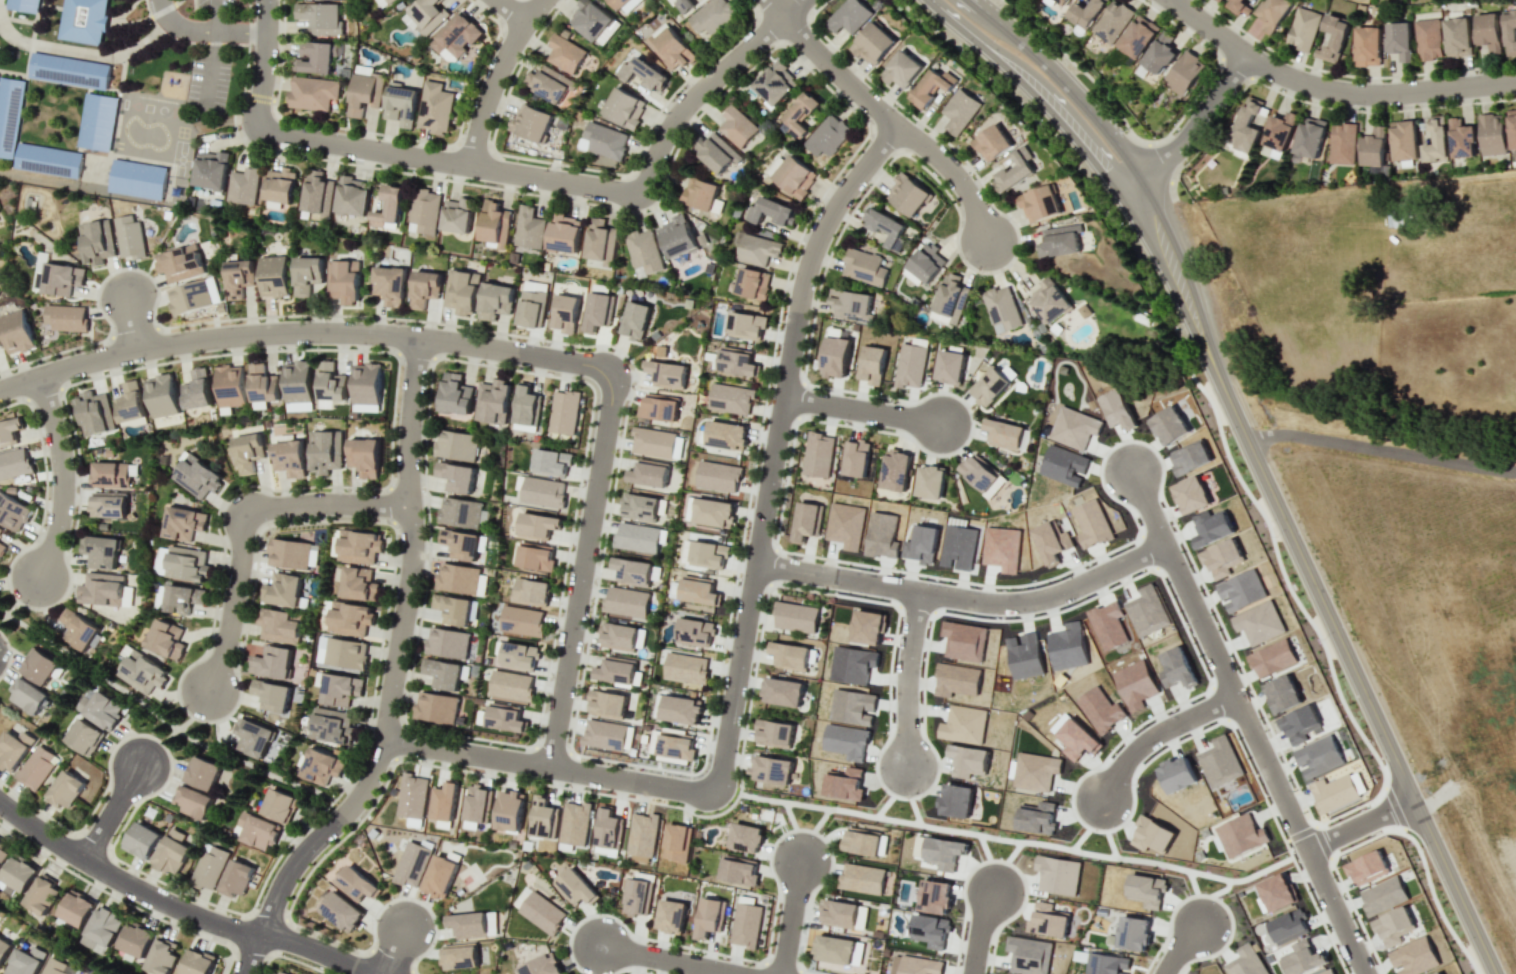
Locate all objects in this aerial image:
street lamp: (280, 0)
street lamp: (1146, 0)
building: (1220, 0)
building: (381, 2)
building: (1064, 2)
parking lot: (213, 3)
building: (685, 4)
building: (24, 5)
building: (624, 5)
building: (1239, 7)
road: (510, 10)
street lamp: (552, 10)
building: (1085, 13)
building: (1273, 14)
road: (215, 15)
building: (425, 16)
building: (848, 16)
building: (319, 17)
building: (711, 17)
building: (84, 20)
building: (592, 21)
building: (1112, 21)
road: (203, 28)
building: (1302, 29)
building: (1488, 32)
building: (1509, 32)
building: (1138, 36)
building: (455, 37)
building: (1457, 37)
building: (1332, 38)
building: (1428, 39)
building: (1399, 40)
building: (873, 43)
street lamp: (963, 46)
building: (1367, 46)
building: (671, 48)
street lamp: (1269, 50)
building: (565, 53)
building: (1160, 53)
road: (262, 64)
road: (828, 66)
building: (900, 69)
building: (69, 70)
street lamp: (813, 70)
building: (1184, 72)
road: (209, 73)
building: (645, 73)
road: (493, 77)
parking lot: (207, 83)
building: (551, 84)
street lamp: (683, 84)
building: (774, 85)
road: (1066, 85)
building: (931, 86)
road: (1041, 88)
road: (1331, 89)
building: (312, 93)
building: (363, 93)
building: (401, 104)
street lamp: (895, 104)
building: (435, 107)
building: (624, 107)
street lamp: (1360, 109)
building: (959, 111)
building: (801, 112)
building: (9, 113)
building: (98, 121)
building: (530, 122)
building: (1247, 125)
street lamp: (236, 126)
building: (737, 126)
road: (1197, 126)
building: (1512, 129)
building: (1279, 131)
building: (1491, 134)
building: (826, 135)
building: (1310, 137)
building: (1461, 139)
building: (1403, 140)
building: (1435, 140)
building: (605, 141)
building: (991, 143)
building: (1342, 143)
building: (1373, 147)
building: (717, 153)
building: (48, 160)
street lamp: (560, 165)
building: (211, 170)
road: (952, 173)
street lamp: (973, 174)
building: (794, 176)
street lamp: (446, 177)
building: (138, 179)
road: (572, 184)
street lamp: (868, 184)
building: (243, 186)
building: (280, 186)
building: (315, 193)
building: (701, 194)
building: (907, 194)
building: (352, 196)
building: (1039, 203)
building: (387, 208)
building: (423, 211)
building: (773, 211)
building: (456, 215)
building: (494, 224)
building: (886, 227)
building: (528, 228)
building: (564, 233)
building: (675, 236)
building: (130, 237)
building: (600, 240)
building: (1059, 241)
building: (98, 242)
building: (642, 252)
building: (925, 262)
building: (180, 263)
building: (863, 267)
street lamp: (978, 273)
building: (306, 274)
building: (274, 275)
street lamp: (788, 275)
building: (238, 277)
building: (61, 278)
building: (342, 281)
building: (753, 283)
building: (390, 284)
building: (424, 287)
building: (461, 291)
building: (193, 296)
building: (949, 299)
building: (495, 300)
building: (1048, 301)
building: (531, 304)
building: (1001, 309)
building: (1083, 310)
building: (598, 311)
building: (564, 313)
building: (66, 317)
street lamp: (228, 320)
building: (635, 320)
road: (131, 322)
building: (746, 325)
building: (16, 331)
building: (0, 345)
street lamp: (315, 346)
road: (499, 349)
building: (835, 357)
street lamp: (480, 361)
building: (736, 361)
street lamp: (140, 364)
building: (870, 364)
building: (910, 365)
building: (949, 366)
building: (666, 374)
building: (297, 382)
building: (330, 382)
building: (366, 383)
building: (262, 384)
street lamp: (633, 384)
street lamp: (770, 385)
building: (230, 386)
building: (989, 387)
building: (196, 390)
street lamp: (927, 391)
building: (455, 394)
building: (161, 396)
building: (730, 399)
building: (492, 402)
building: (129, 403)
building: (658, 407)
building: (526, 409)
road: (860, 410)
building: (95, 411)
building: (564, 412)
street lamp: (843, 421)
building: (9, 431)
street lamp: (1227, 431)
building: (1004, 434)
building: (726, 435)
street lamp: (1116, 441)
building: (652, 442)
building: (455, 445)
road: (1381, 450)
building: (247, 452)
building: (326, 452)
building: (818, 454)
building: (364, 456)
street lamp: (948, 456)
building: (855, 458)
building: (551, 461)
building: (14, 463)
building: (895, 471)
building: (648, 473)
building: (110, 475)
building: (981, 475)
building: (196, 476)
building: (717, 476)
road: (62, 477)
building: (455, 477)
street lamp: (581, 481)
building: (930, 481)
street lamp: (783, 482)
road: (769, 485)
building: (543, 491)
building: (107, 505)
building: (639, 507)
building: (12, 512)
building: (459, 512)
building: (713, 513)
building: (807, 521)
building: (183, 523)
road: (241, 524)
street lamp: (1171, 524)
building: (537, 525)
building: (0, 528)
street lamp: (1275, 535)
building: (460, 544)
building: (358, 546)
building: (2, 548)
building: (101, 552)
building: (288, 553)
building: (707, 554)
building: (535, 556)
building: (187, 563)
building: (635, 571)
street lamp: (737, 576)
building: (460, 579)
street lamp: (934, 579)
street lamp: (595, 580)
road: (1313, 582)
building: (358, 584)
building: (101, 589)
building: (282, 590)
building: (698, 590)
building: (530, 591)
building: (126, 596)
road: (965, 596)
building: (182, 598)
crop: (1424, 600)
building: (625, 603)
building: (452, 609)
street lamp: (34, 610)
building: (795, 617)
street lamp: (1001, 617)
building: (349, 618)
building: (521, 621)
building: (280, 626)
street lamp: (1185, 627)
building: (78, 629)
building: (694, 632)
building: (621, 636)
street lamp: (1322, 637)
building: (165, 639)
building: (447, 642)
building: (345, 653)
road: (394, 655)
building: (518, 655)
building: (790, 656)
street lamp: (922, 659)
building: (272, 662)
building: (39, 666)
street lamp: (752, 667)
building: (685, 668)
building: (615, 670)
building: (141, 672)
building: (444, 673)
road: (910, 678)
building: (511, 685)
building: (340, 689)
street lamp: (1248, 690)
building: (782, 692)
building: (271, 695)
building: (28, 696)
building: (606, 704)
park: (156, 707)
building: (436, 707)
building: (103, 709)
building: (680, 709)
street lamp: (1173, 710)
road: (159, 714)
building: (505, 717)
road: (1245, 721)
building: (330, 725)
building: (773, 733)
road: (1156, 733)
building: (604, 734)
building: (84, 737)
building: (252, 738)
street lamp: (1370, 740)
building: (13, 749)
road: (507, 759)
building: (321, 766)
street lamp: (634, 766)
building: (36, 768)
building: (771, 769)
street lamp: (106, 770)
building: (202, 772)
street lamp: (1136, 784)
street lamp: (566, 785)
street lamp: (738, 785)
building: (65, 790)
road: (892, 792)
building: (1334, 793)
building: (412, 796)
building: (444, 801)
building: (194, 803)
building: (477, 804)
building: (278, 805)
street lamp: (1365, 805)
building: (510, 810)
road: (110, 811)
road: (914, 811)
building: (544, 818)
road: (821, 818)
building: (574, 823)
road: (1359, 824)
road: (1088, 825)
road: (794, 829)
street lamp: (821, 833)
building: (1240, 835)
building: (745, 838)
building: (142, 840)
park: (1023, 840)
road: (1017, 841)
building: (676, 842)
building: (864, 843)
road: (1110, 844)
street lamp: (1420, 847)
street lamp: (1289, 849)
building: (173, 851)
road: (1013, 851)
street lamp: (322, 852)
building: (944, 852)
building: (3, 853)
street lamp: (1000, 857)
road: (988, 862)
building: (411, 864)
building: (1367, 868)
building: (738, 870)
street lamp: (77, 873)
building: (19, 874)
park: (470, 875)
building: (1057, 875)
building: (439, 876)
building: (236, 878)
building: (861, 878)
building: (356, 883)
building: (574, 887)
road: (1222, 889)
building: (1146, 890)
street lamp: (179, 892)
building: (1276, 892)
building: (42, 894)
building: (637, 896)
building: (934, 896)
street lamp: (1344, 896)
building: (1382, 896)
road: (1196, 897)
street lamp: (1221, 898)
street lamp: (256, 905)
building: (77, 908)
road: (175, 911)
building: (342, 911)
building: (542, 912)
building: (841, 914)
building: (671, 916)
building: (709, 917)
road: (790, 917)
building: (1048, 921)
building: (1394, 922)
building: (473, 925)
building: (1287, 926)
building: (102, 929)
building: (930, 930)
road: (980, 932)
building: (1130, 934)
building: (136, 940)
street lamp: (1465, 942)
road: (1180, 948)
building: (4, 949)
building: (838, 949)
road: (392, 953)
road: (251, 954)
building: (161, 956)
building: (459, 957)
street lamp: (959, 957)
street lamp: (1155, 957)
building: (1413, 957)
building: (26, 961)
road: (663, 961)
building: (1246, 961)
building: (1303, 961)
building: (197, 962)
building: (1107, 964)
building: (916, 965)
building: (542, 966)
building: (57, 967)

